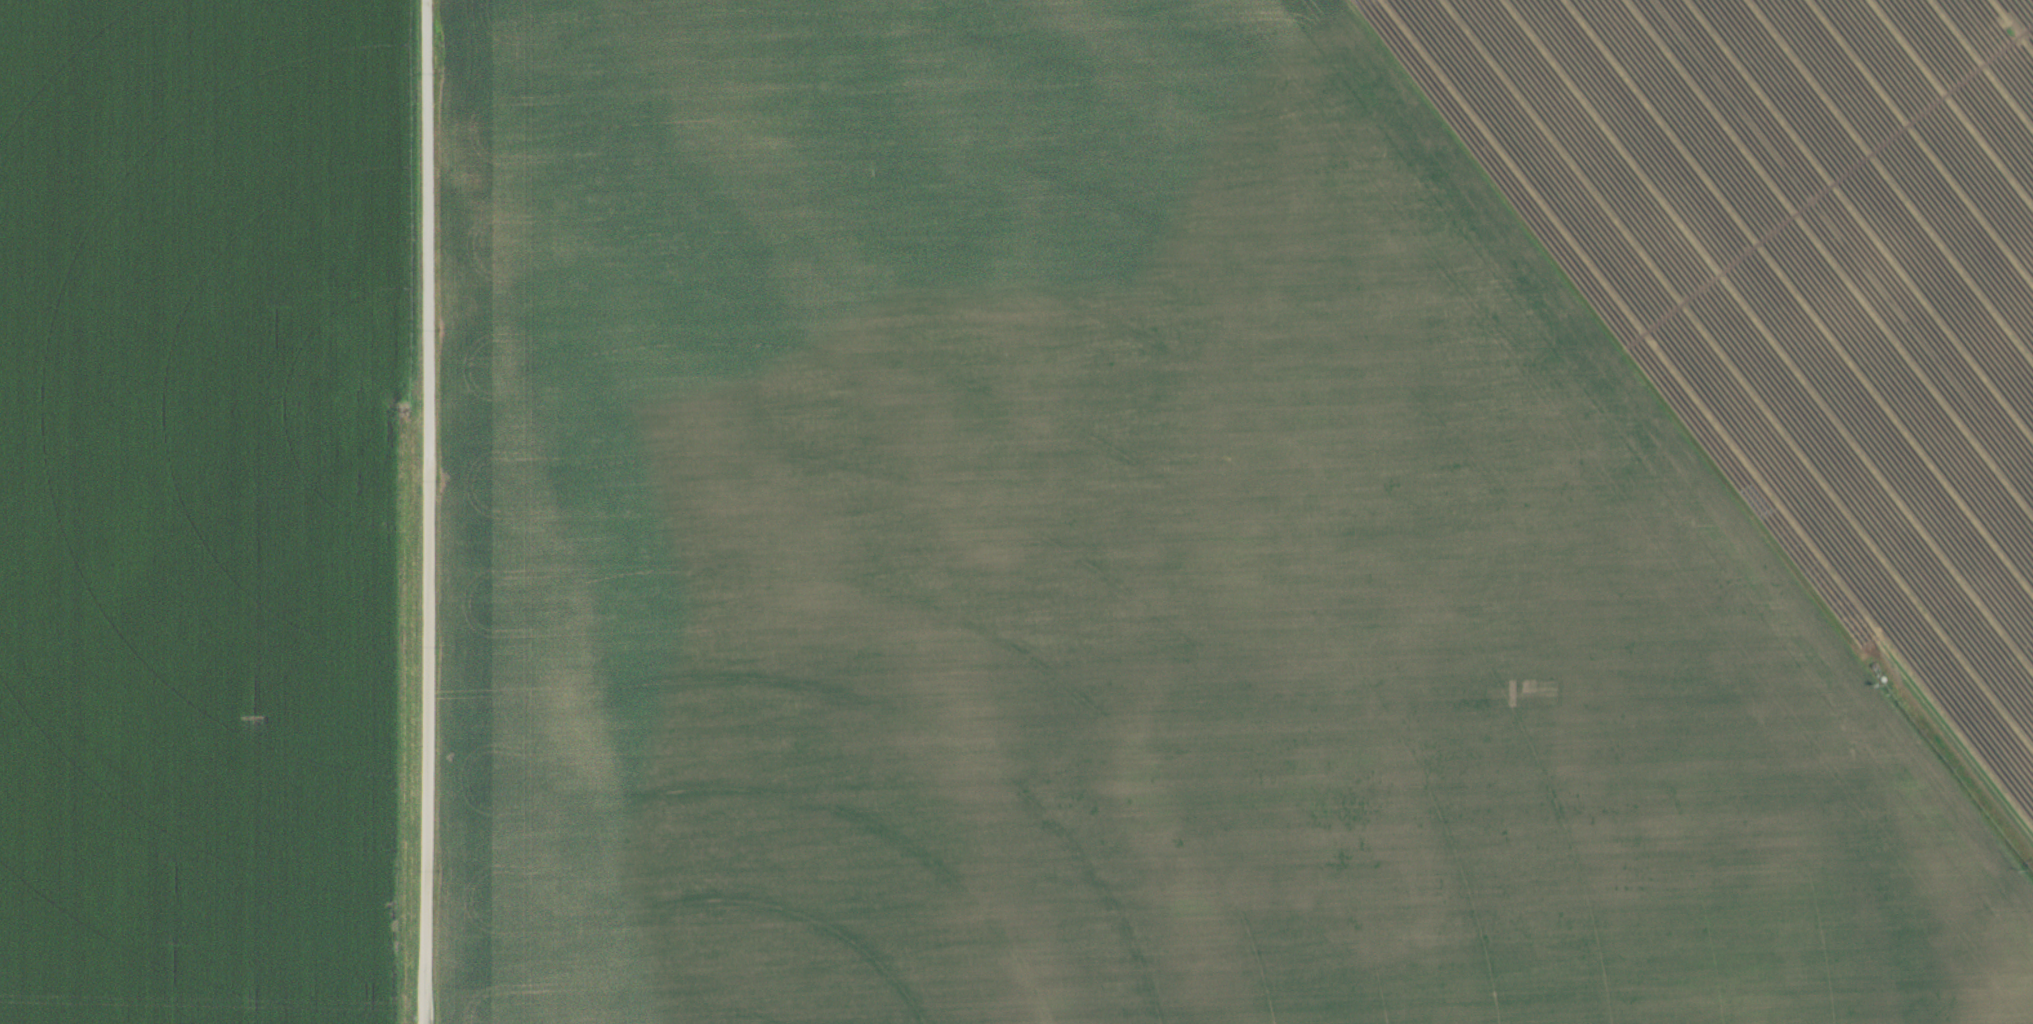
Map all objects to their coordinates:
road: (429, 512)

